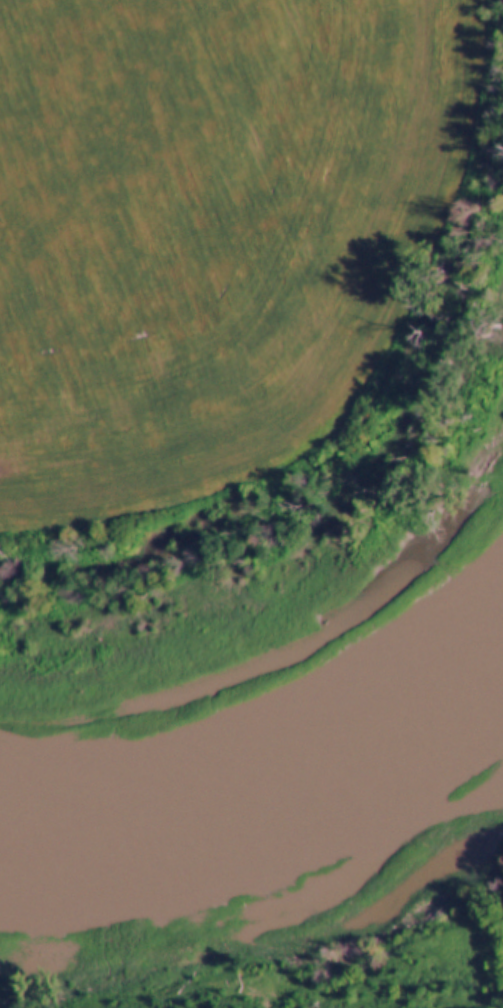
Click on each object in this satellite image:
river: (278, 761)
road: (407, 955)

